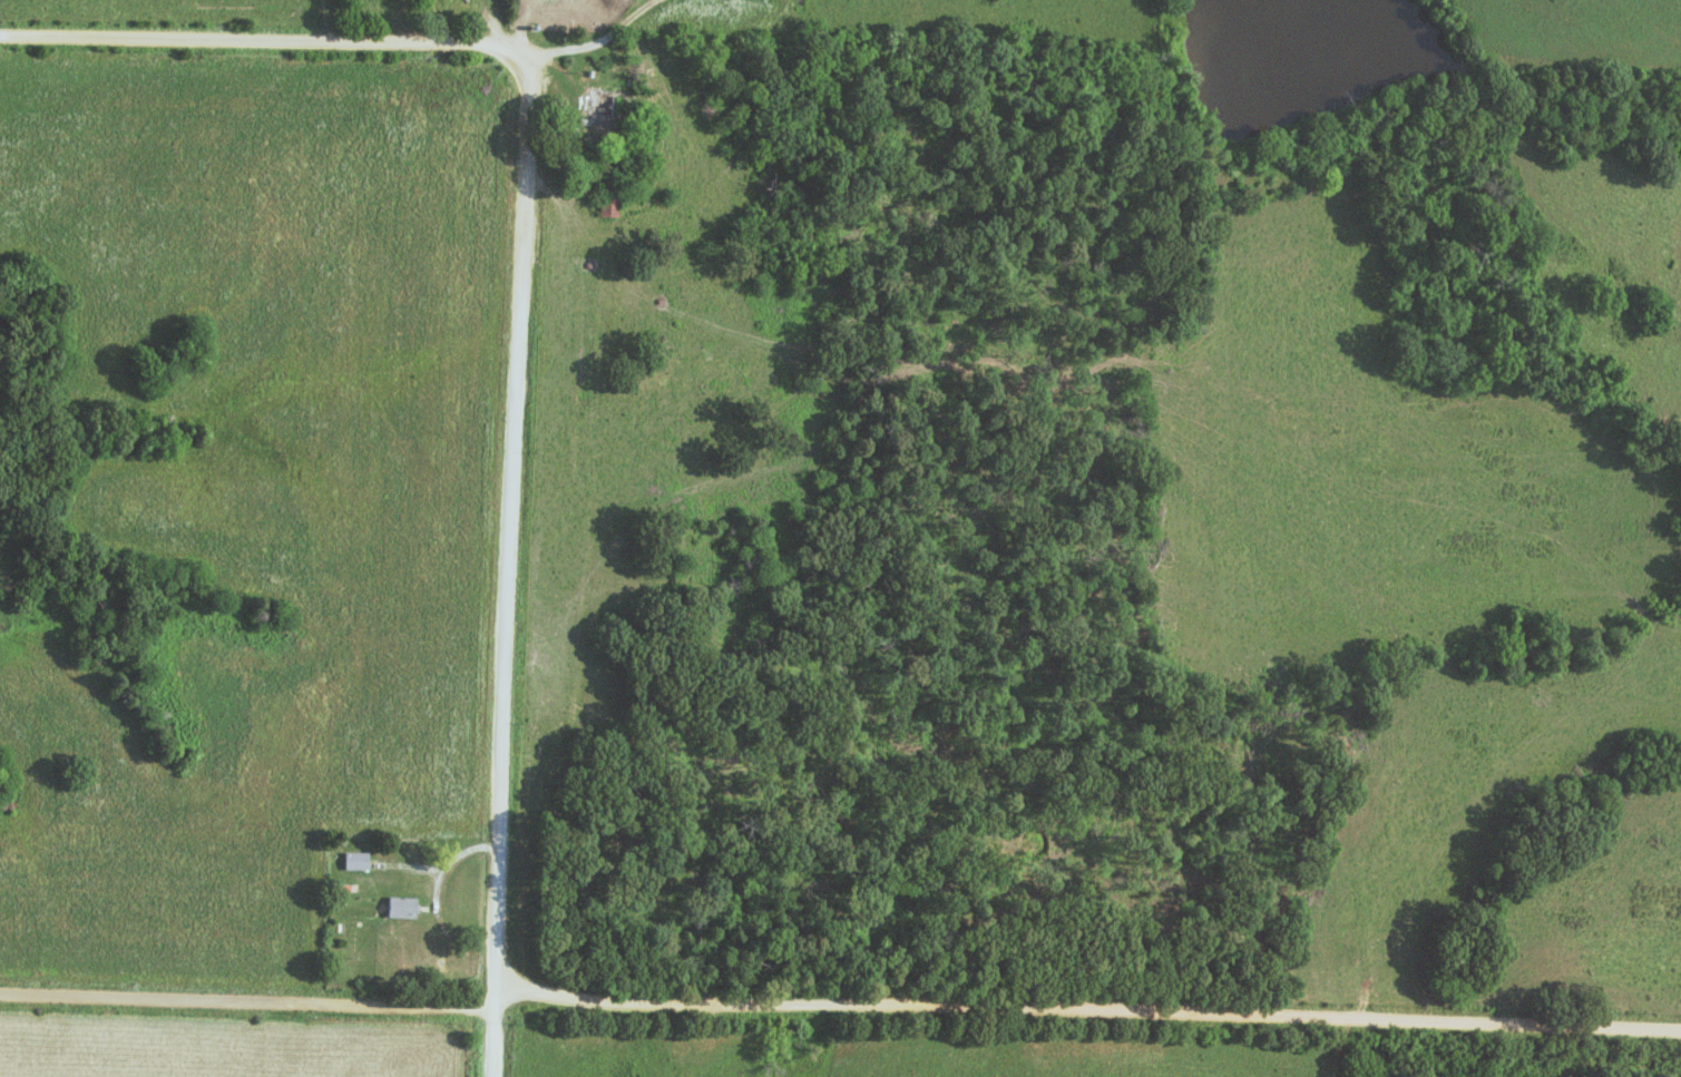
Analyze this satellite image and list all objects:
road: (263, 41)
building: (600, 108)
building: (609, 198)
road: (508, 567)
building: (401, 908)
road: (527, 977)
road: (839, 1000)

